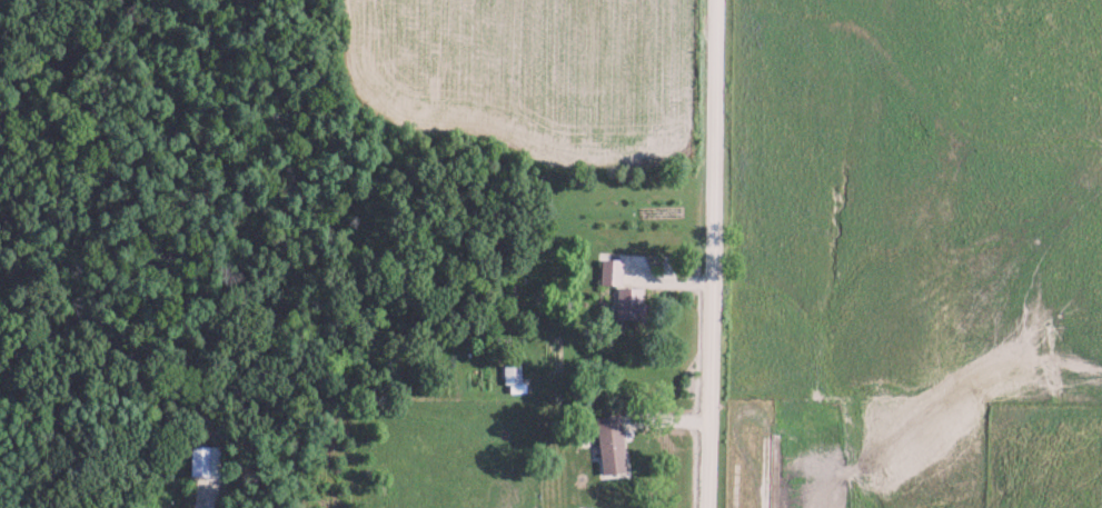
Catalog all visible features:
road: (716, 253)
building: (608, 270)
building: (626, 302)
building: (508, 372)
building: (607, 444)
building: (200, 460)

